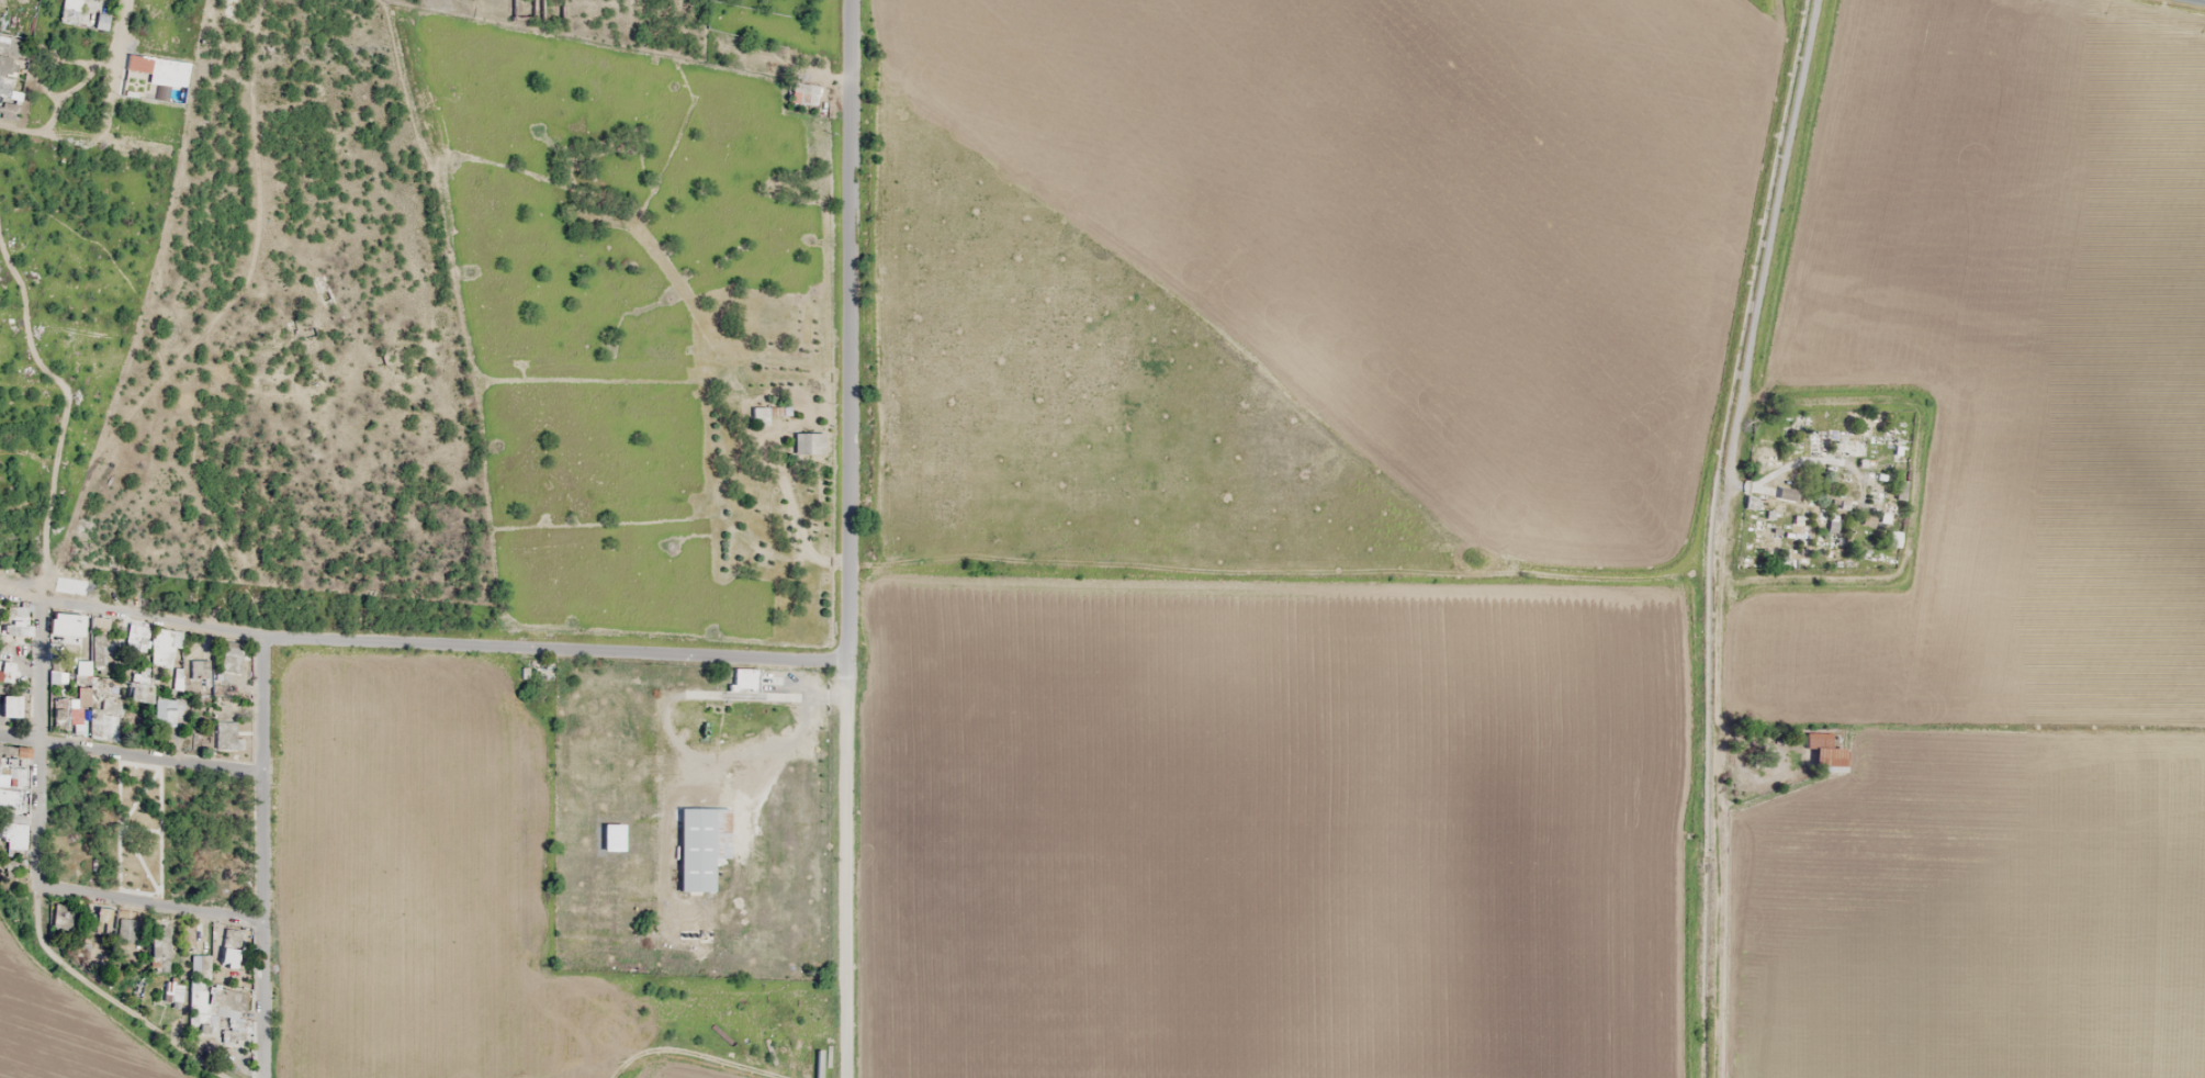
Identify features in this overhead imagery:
road: (110, 67)
road: (50, 135)
road: (1763, 232)
road: (843, 329)
road: (65, 411)
park: (1814, 487)

